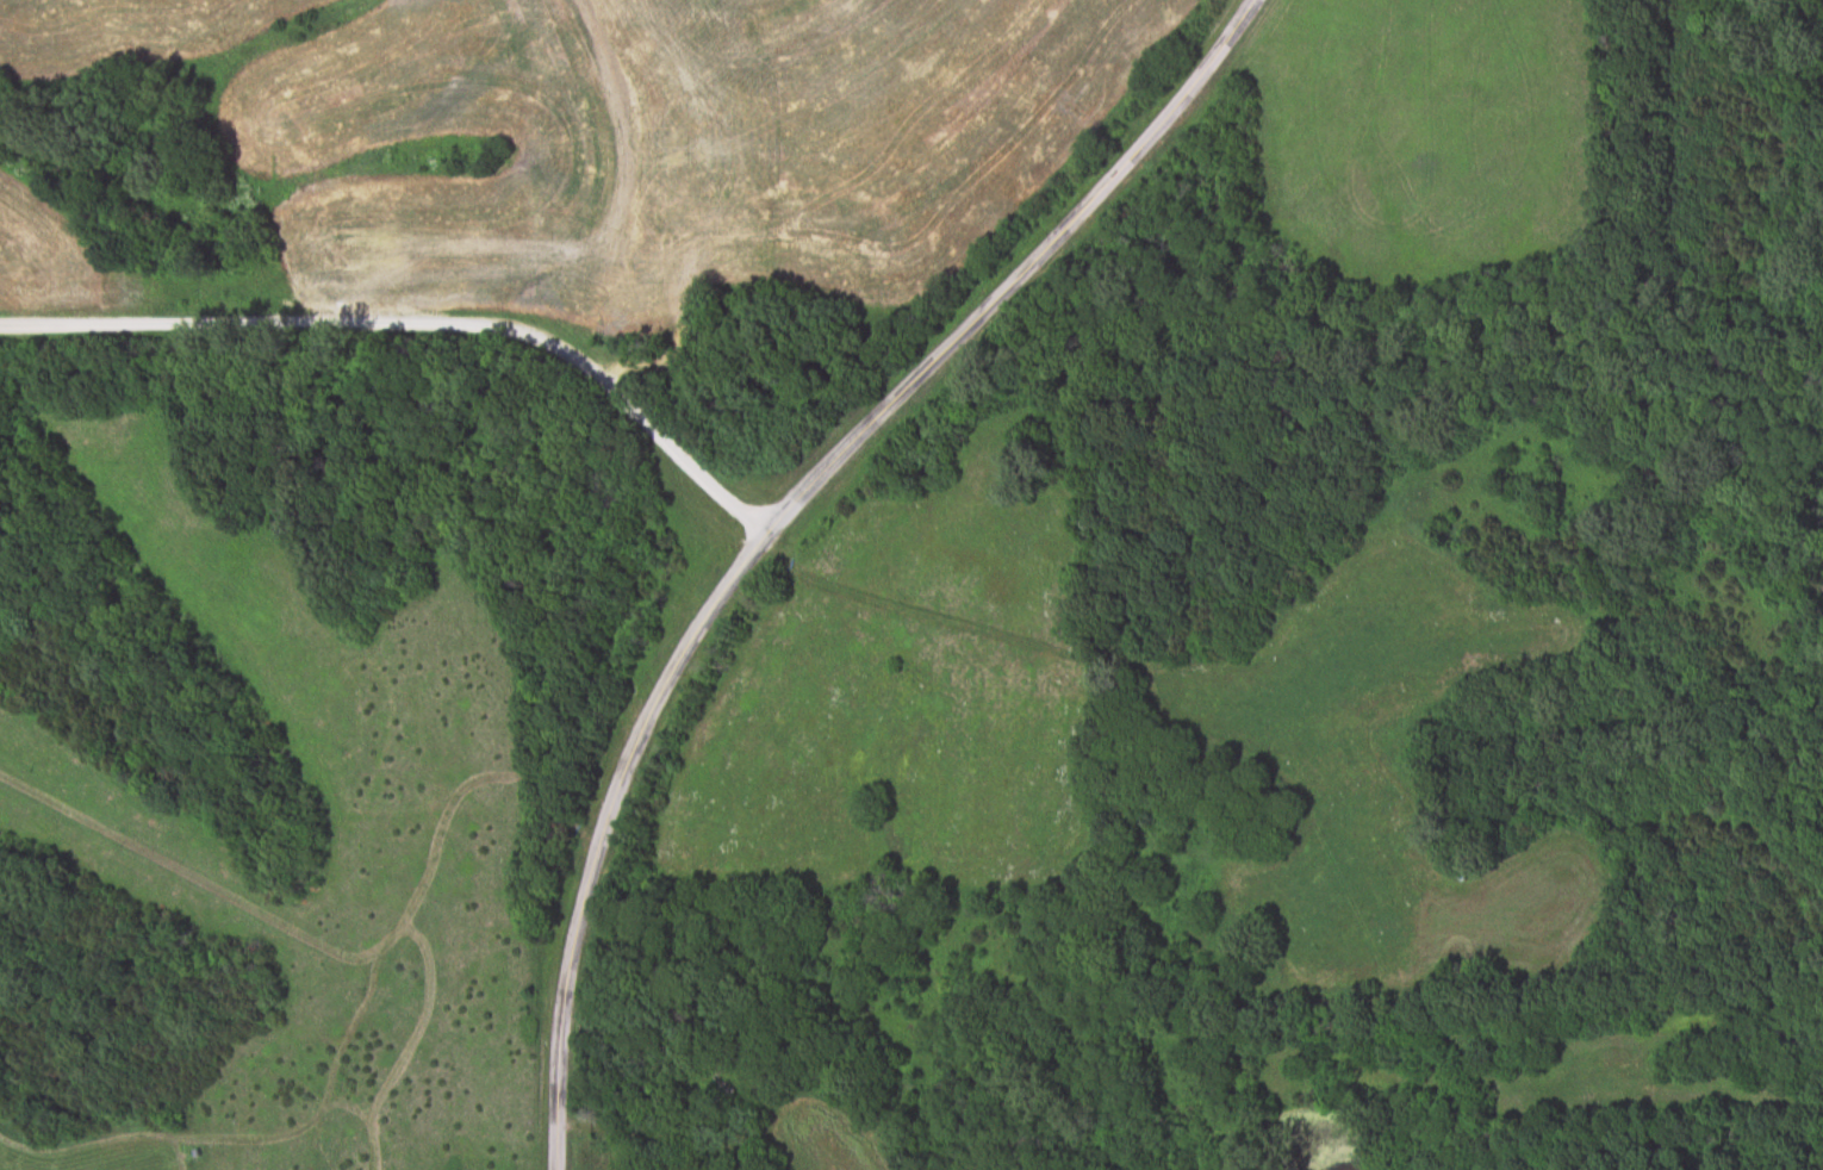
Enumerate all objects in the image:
road: (422, 319)
road: (777, 523)

